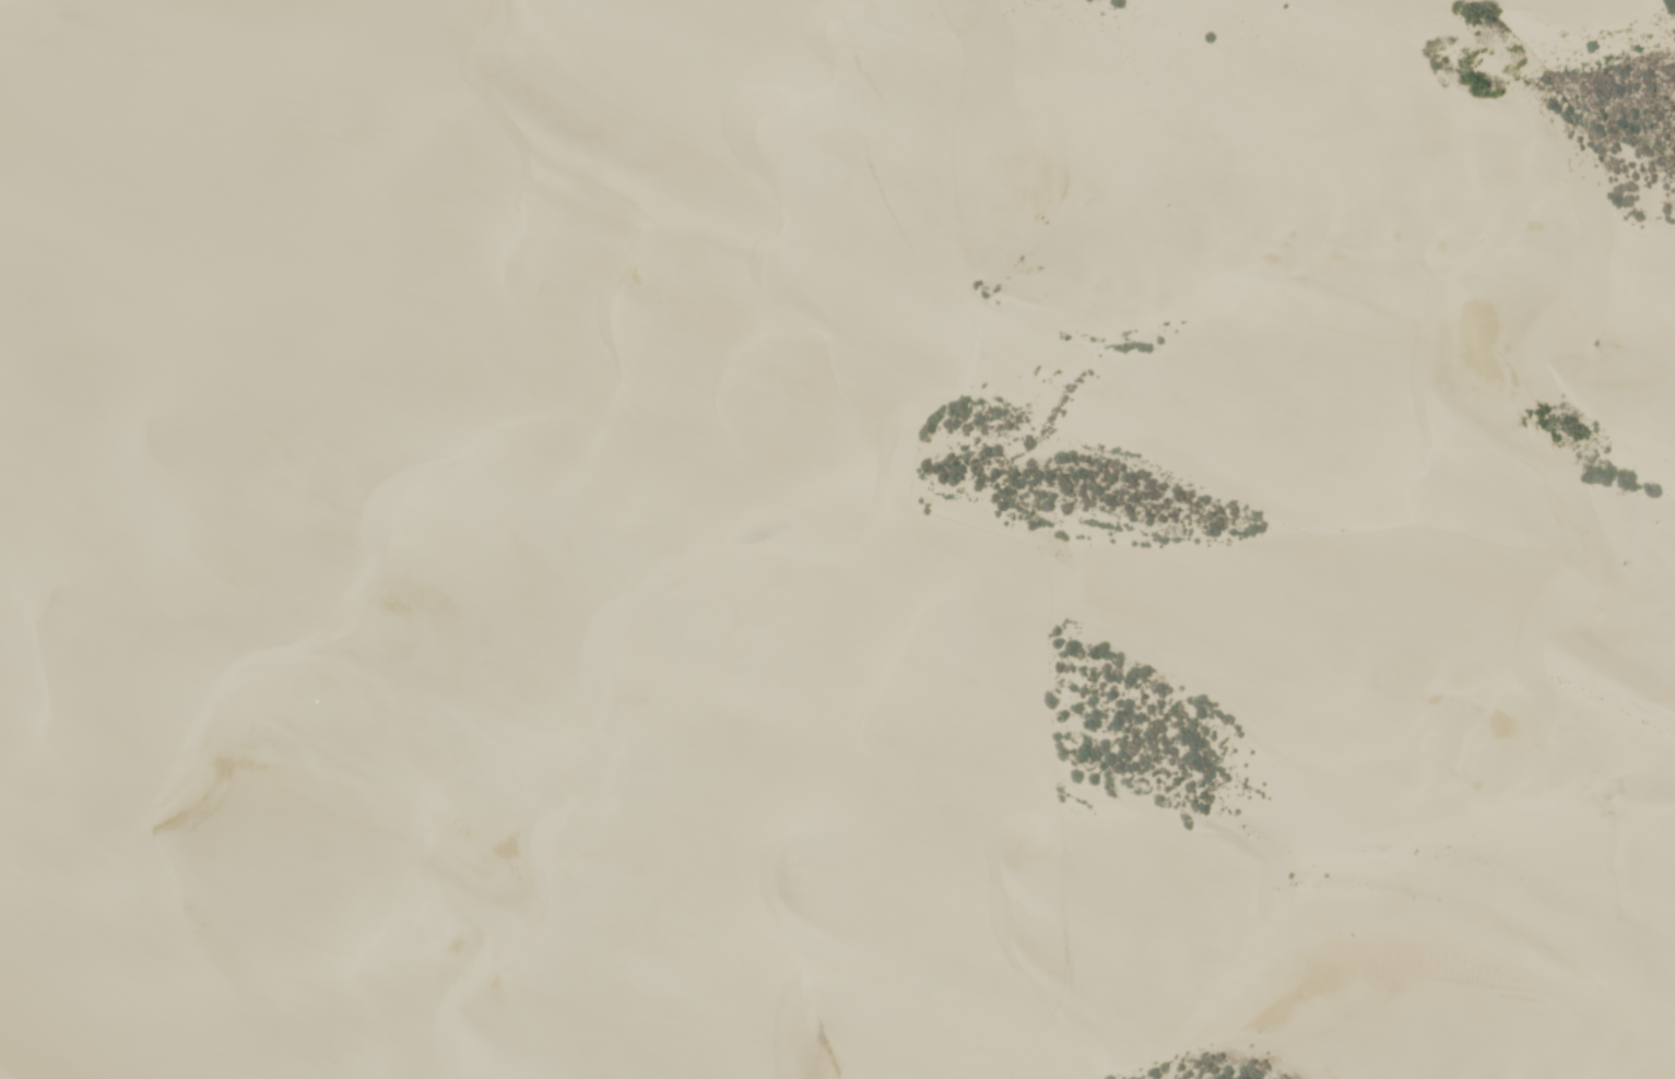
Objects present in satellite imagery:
park: (837, 539)

